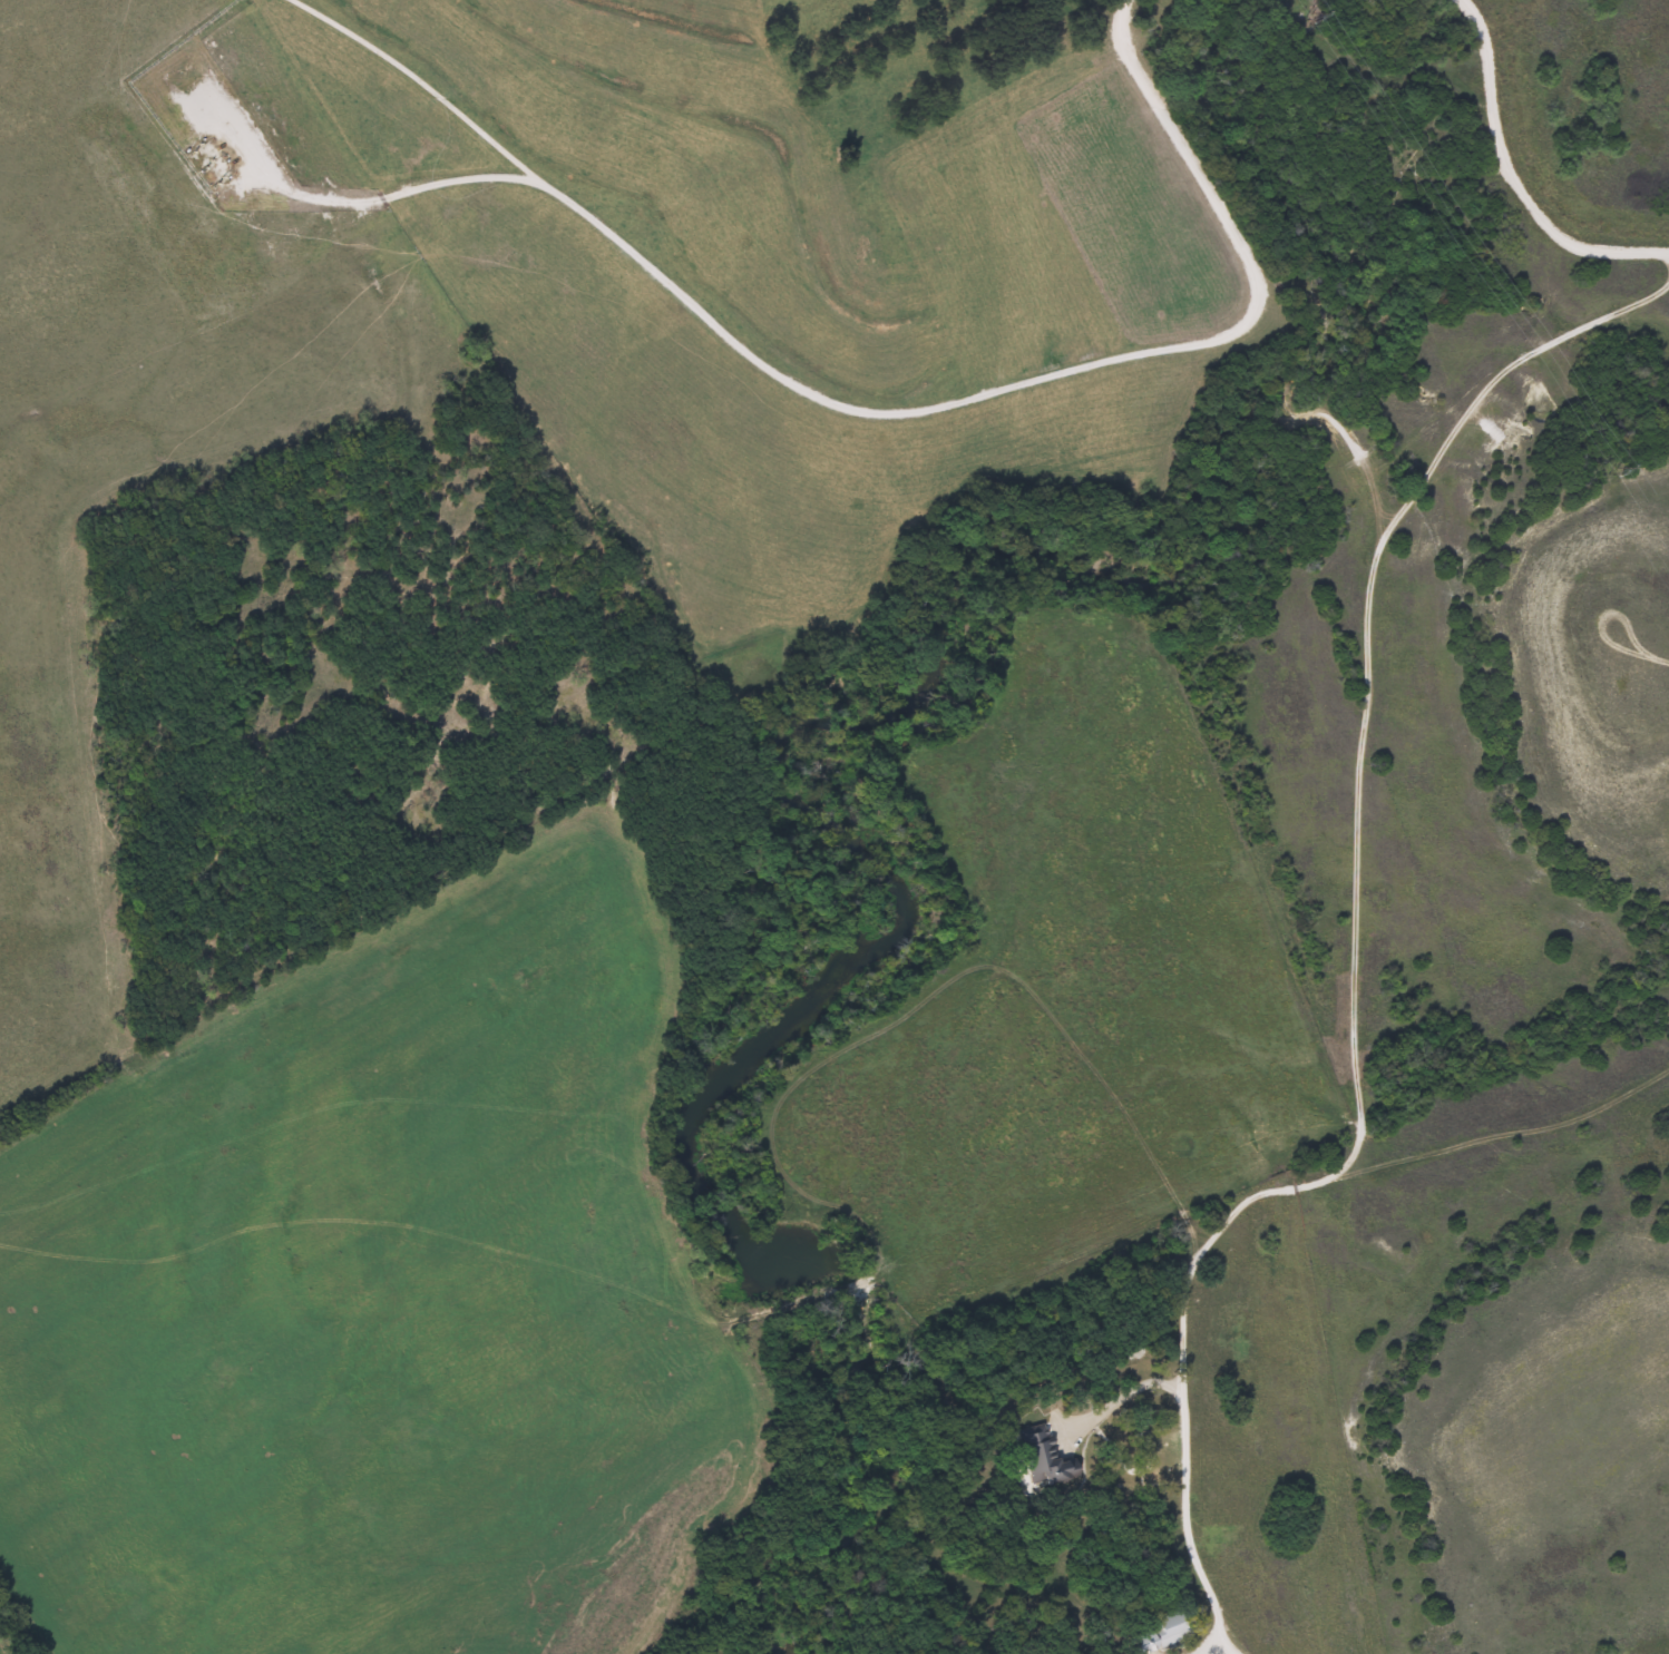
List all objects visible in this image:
road: (1511, 174)
road: (886, 407)
building: (1034, 1456)
road: (1175, 1481)

